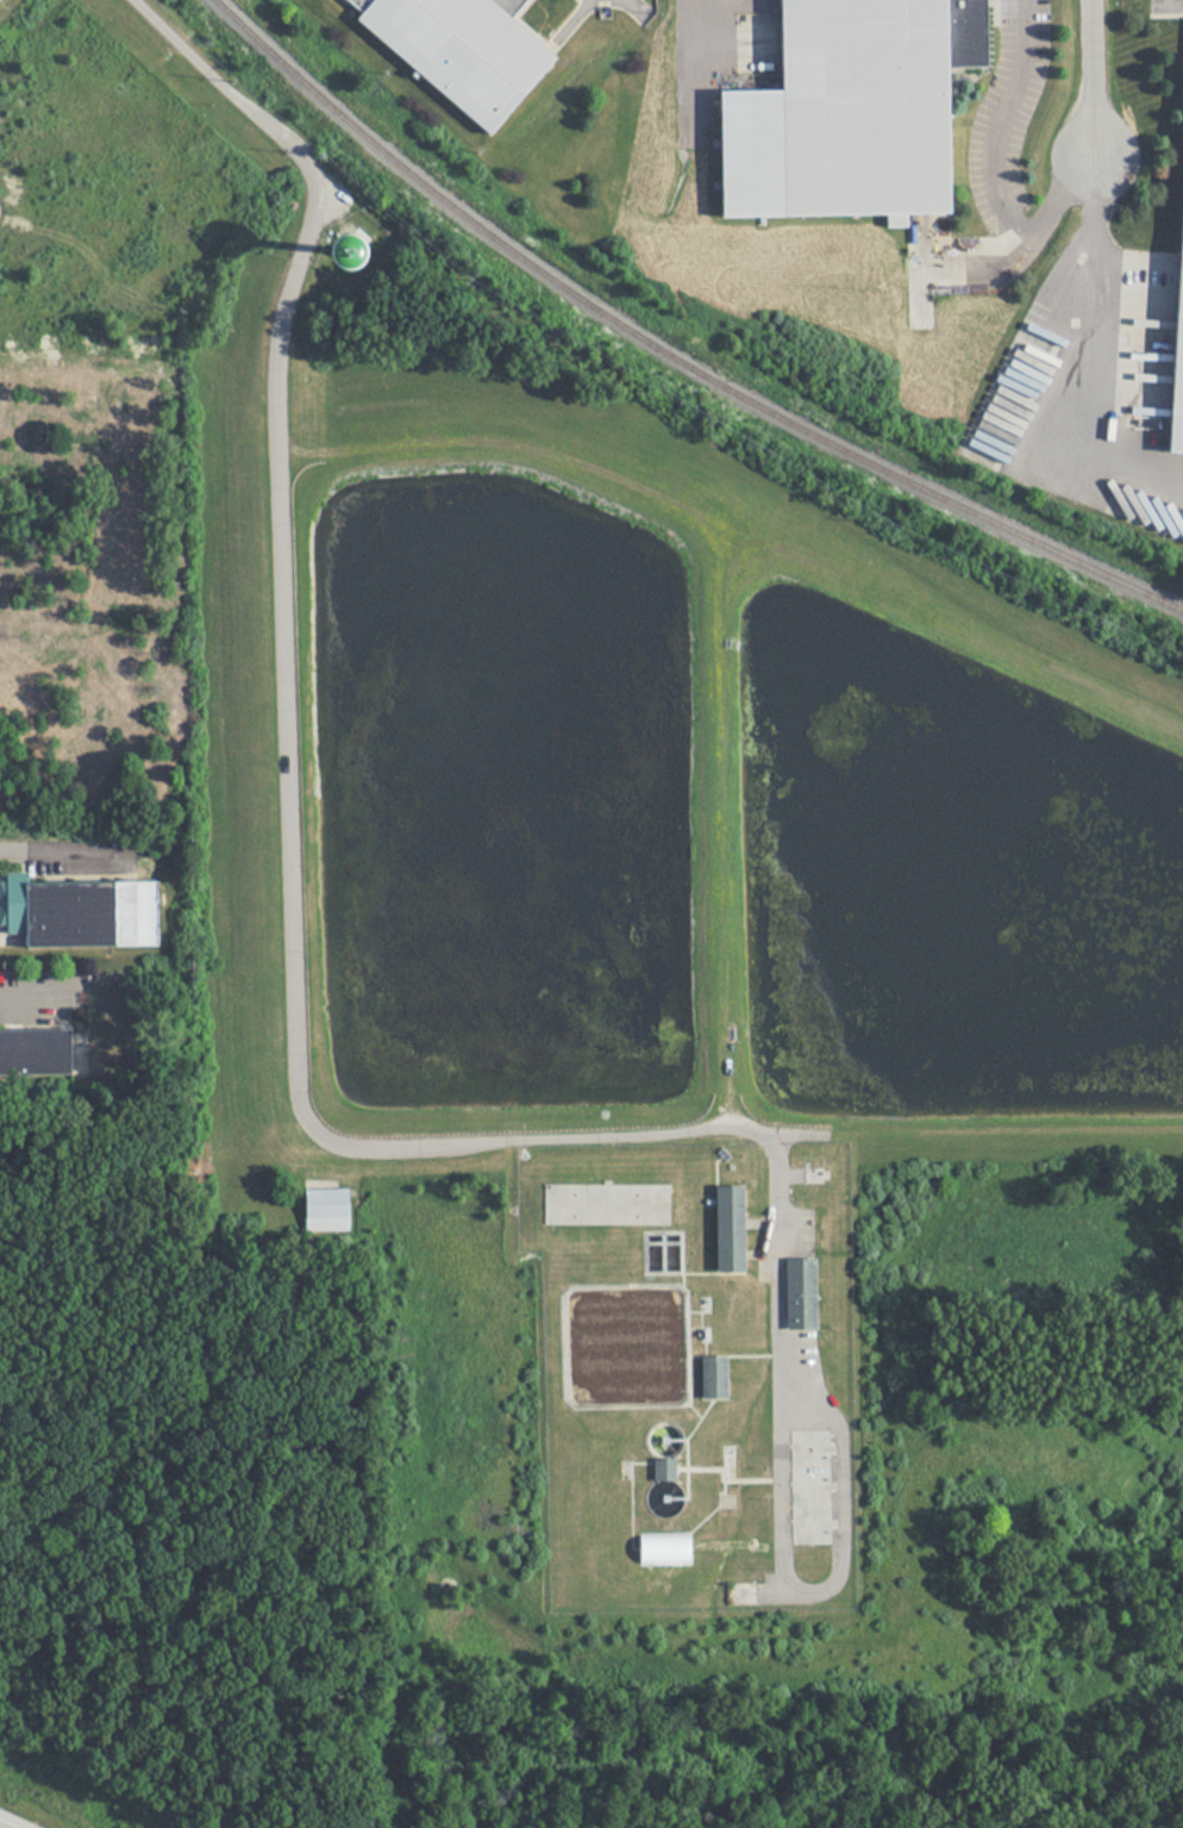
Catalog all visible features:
road: (630, 1)
building: (468, 50)
road: (696, 65)
road: (1093, 79)
building: (855, 107)
road: (1002, 121)
road: (1064, 196)
water tower: (346, 251)
building: (368, 252)
road: (1088, 344)
railway: (668, 355)
building: (1182, 420)
road: (61, 850)
road: (288, 891)
building: (94, 913)
road: (37, 998)
building: (36, 1052)
building: (607, 1204)
building: (325, 1208)
building: (728, 1225)
building: (799, 1292)
wastewater plant: (694, 1371)
building: (713, 1375)
building: (668, 1467)
building: (663, 1546)
road: (833, 1578)

